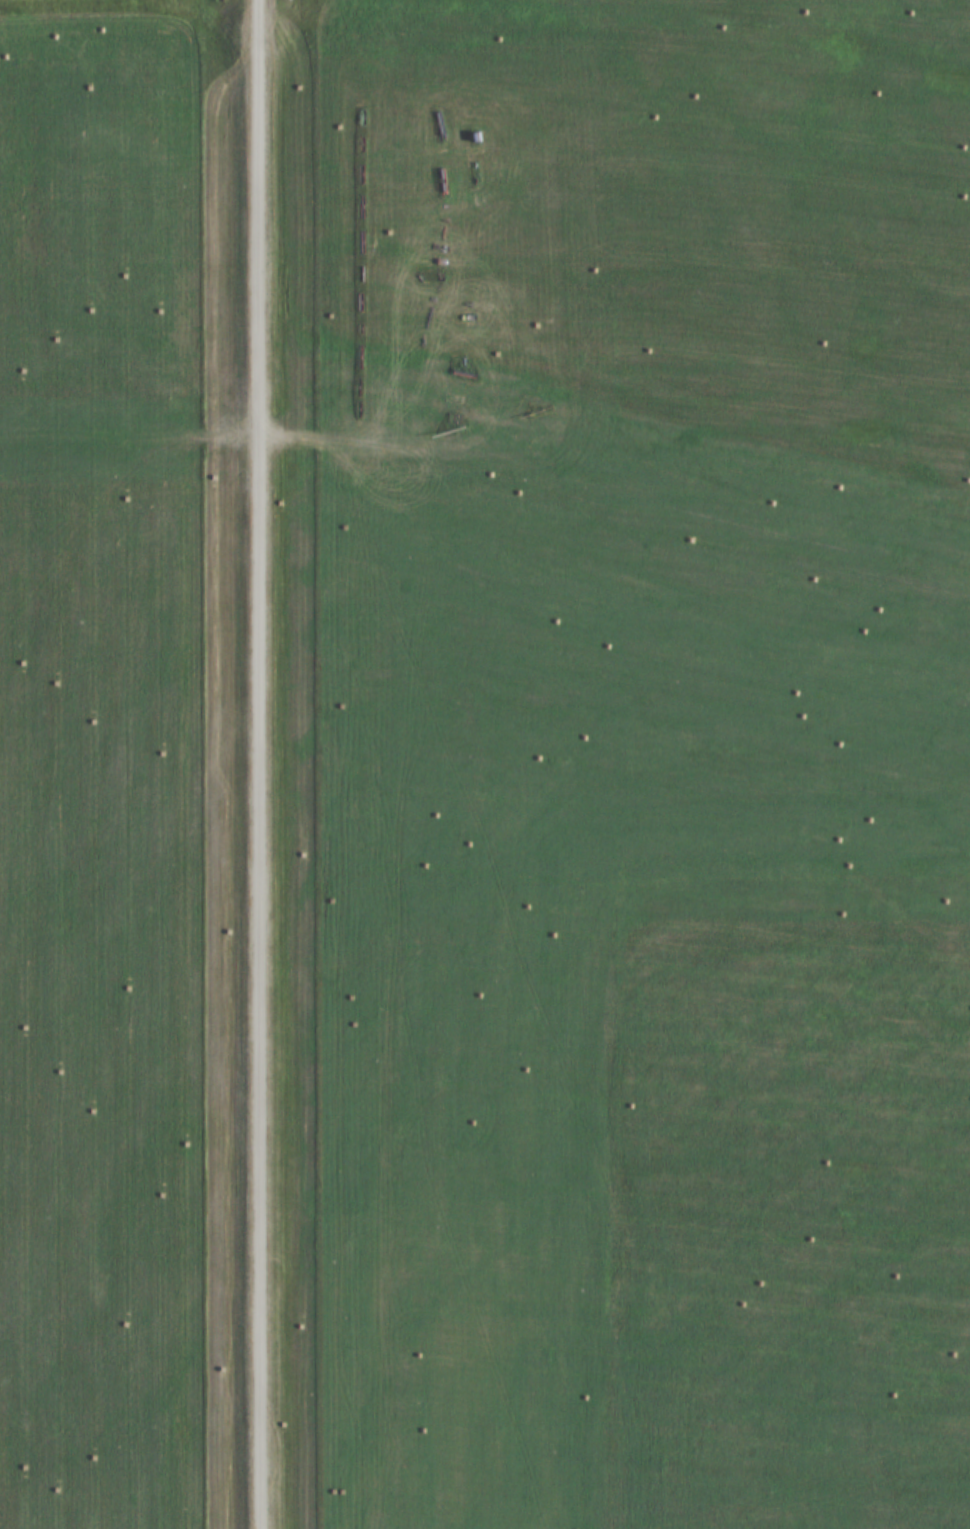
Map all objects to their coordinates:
quarry: (430, 691)

